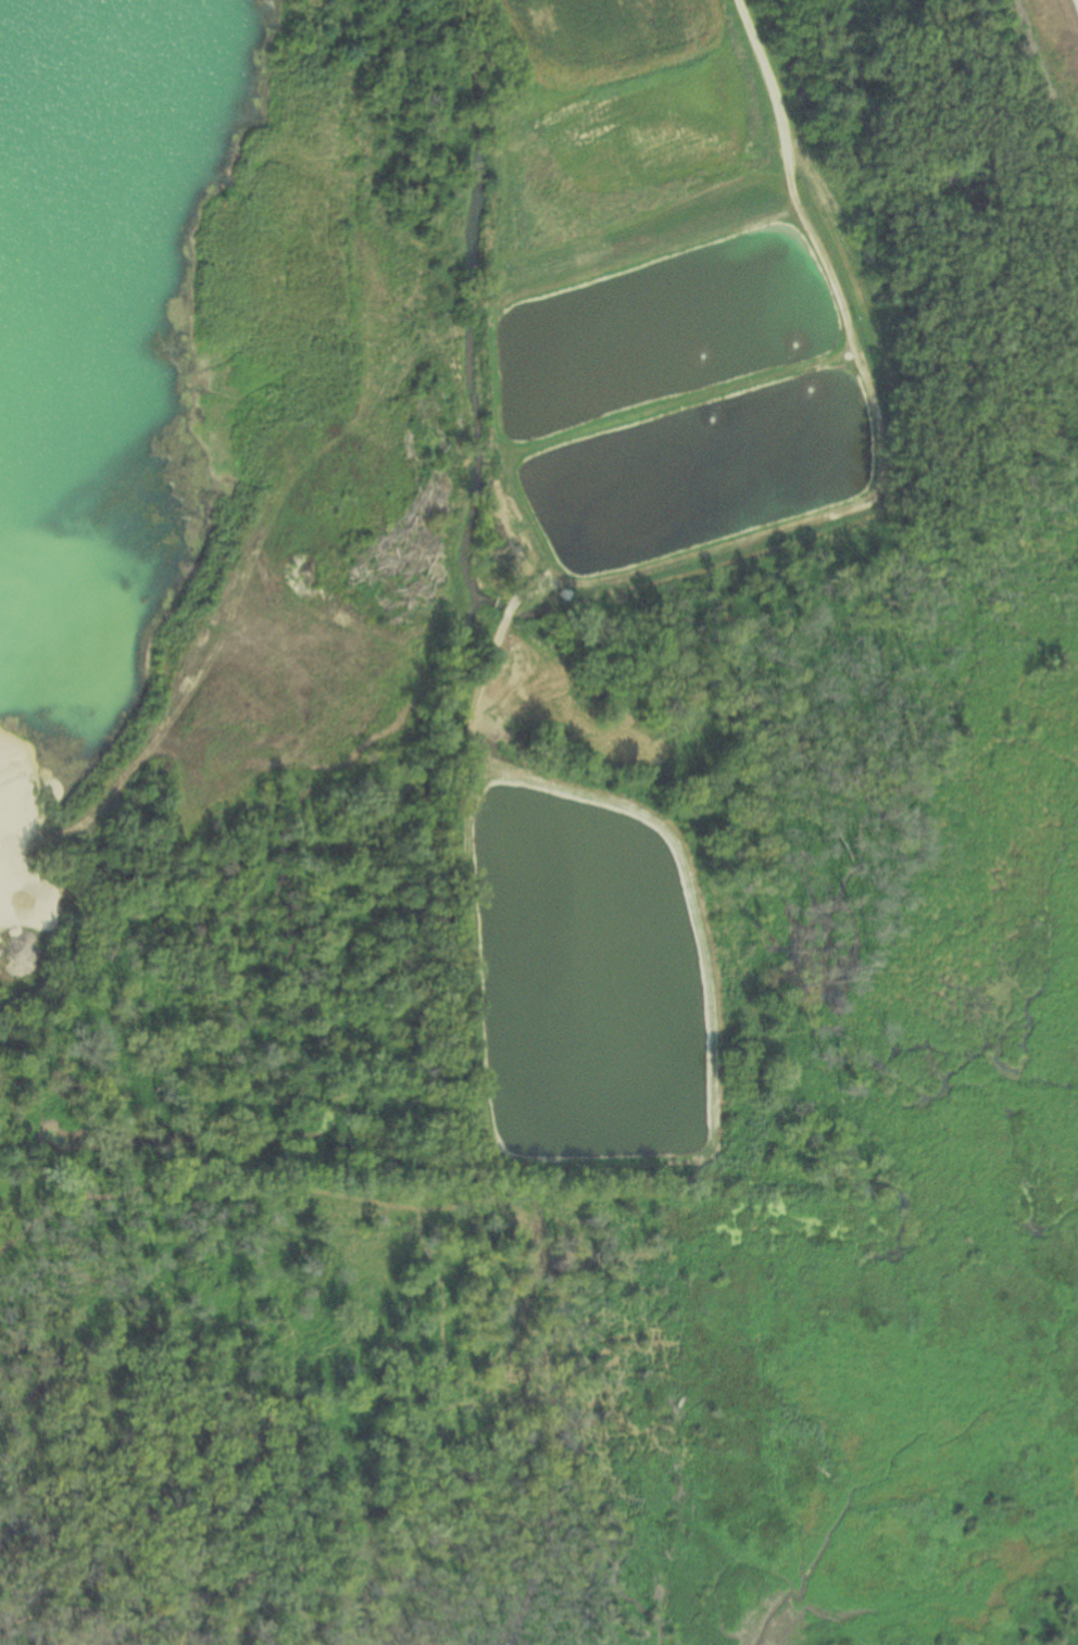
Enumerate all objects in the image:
road: (1075, 7)
road: (875, 503)

